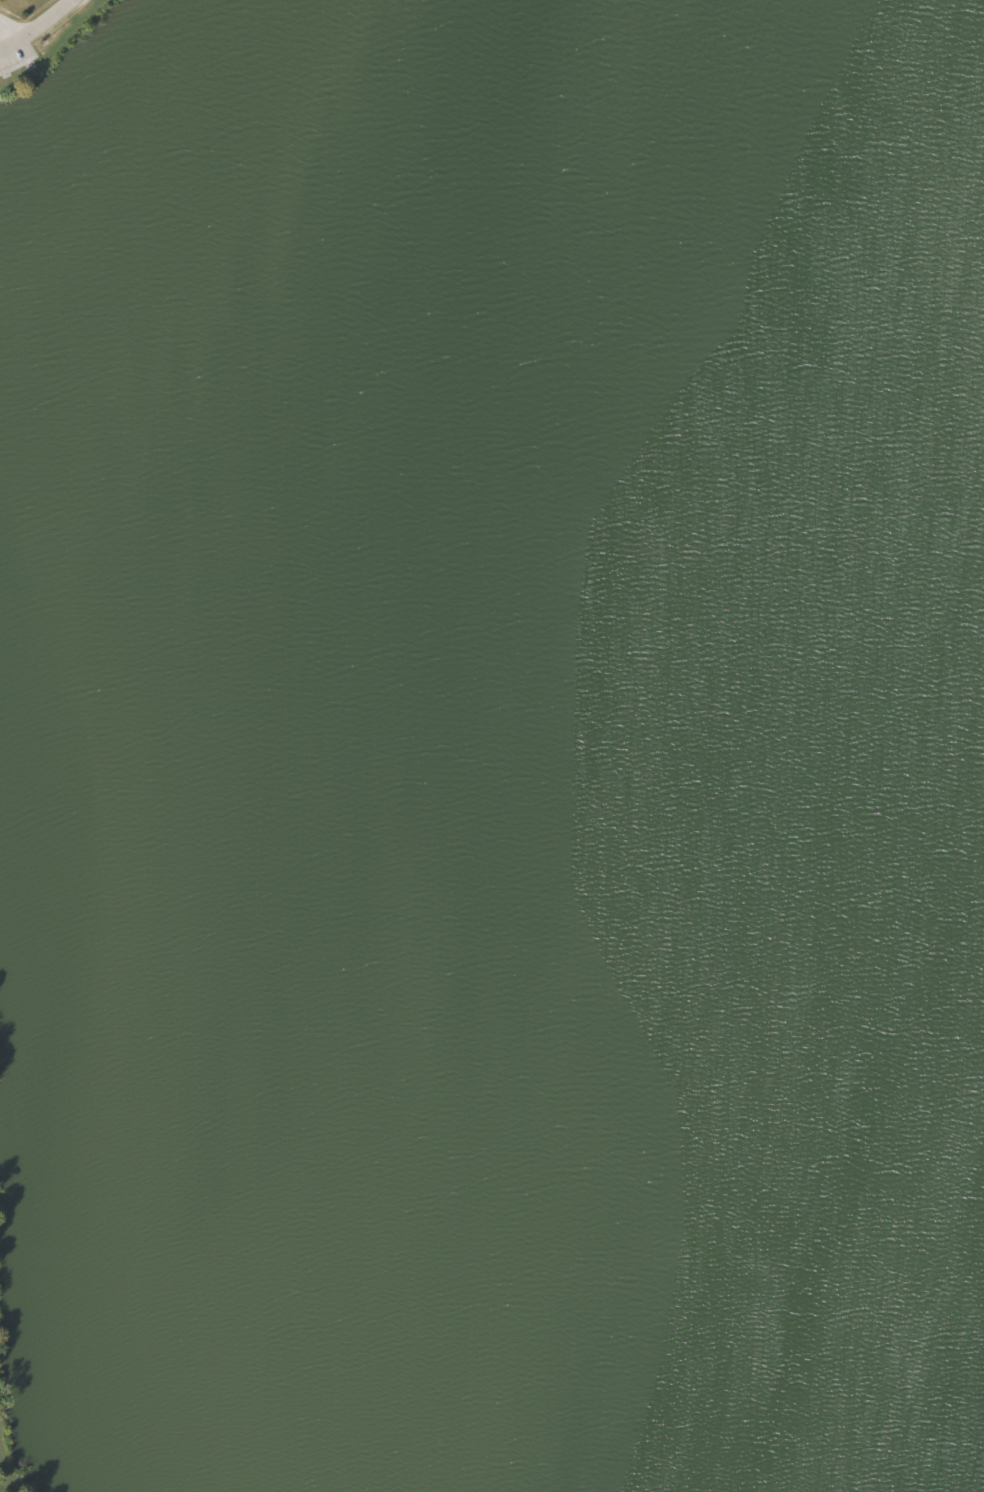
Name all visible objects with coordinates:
road: (36, 28)
parking lot: (12, 41)
park: (492, 746)

